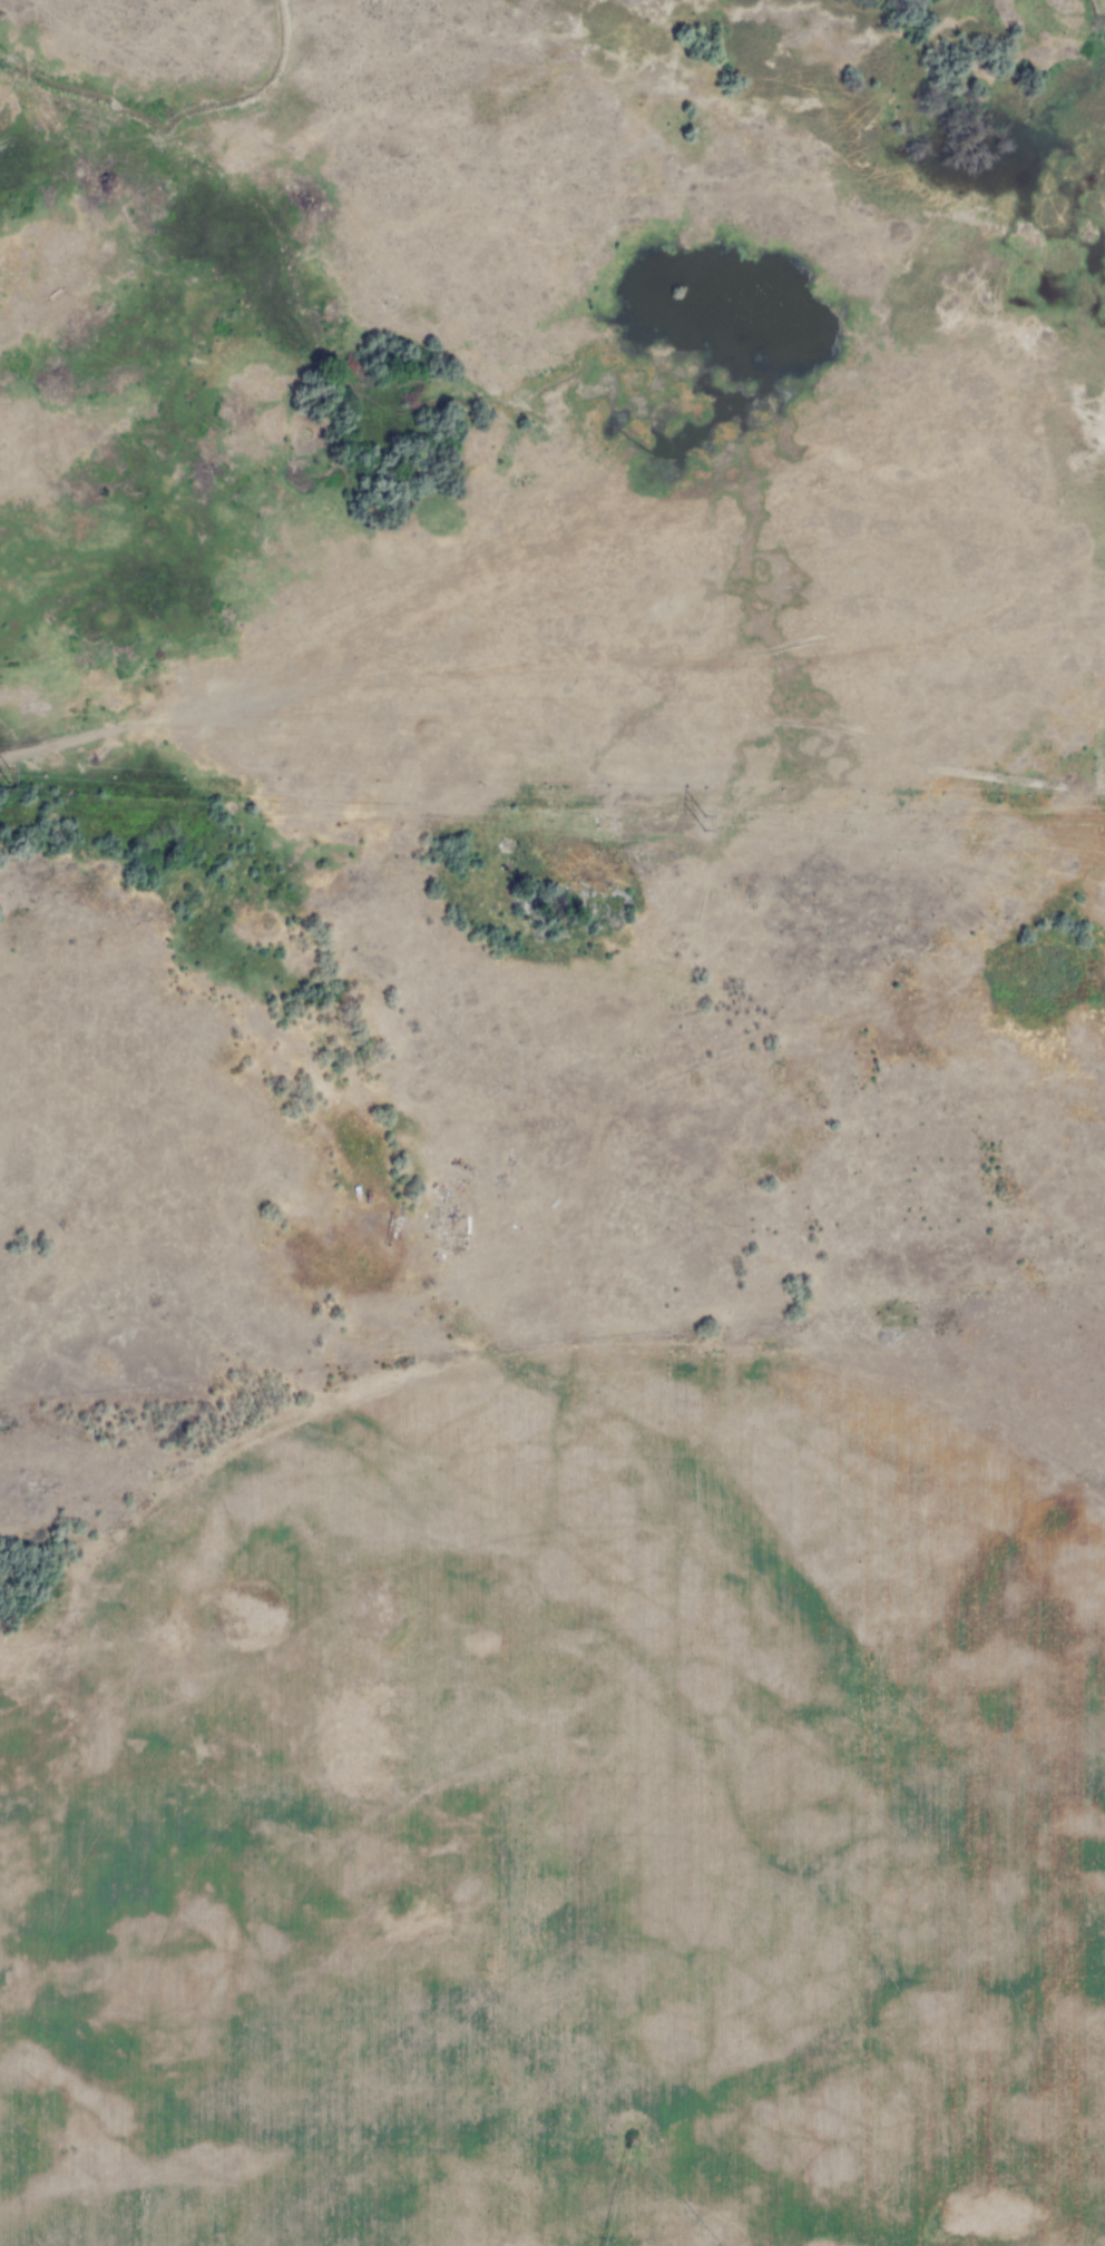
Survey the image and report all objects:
power tower: (3, 776)
power tower: (702, 821)
crop: (565, 1834)

